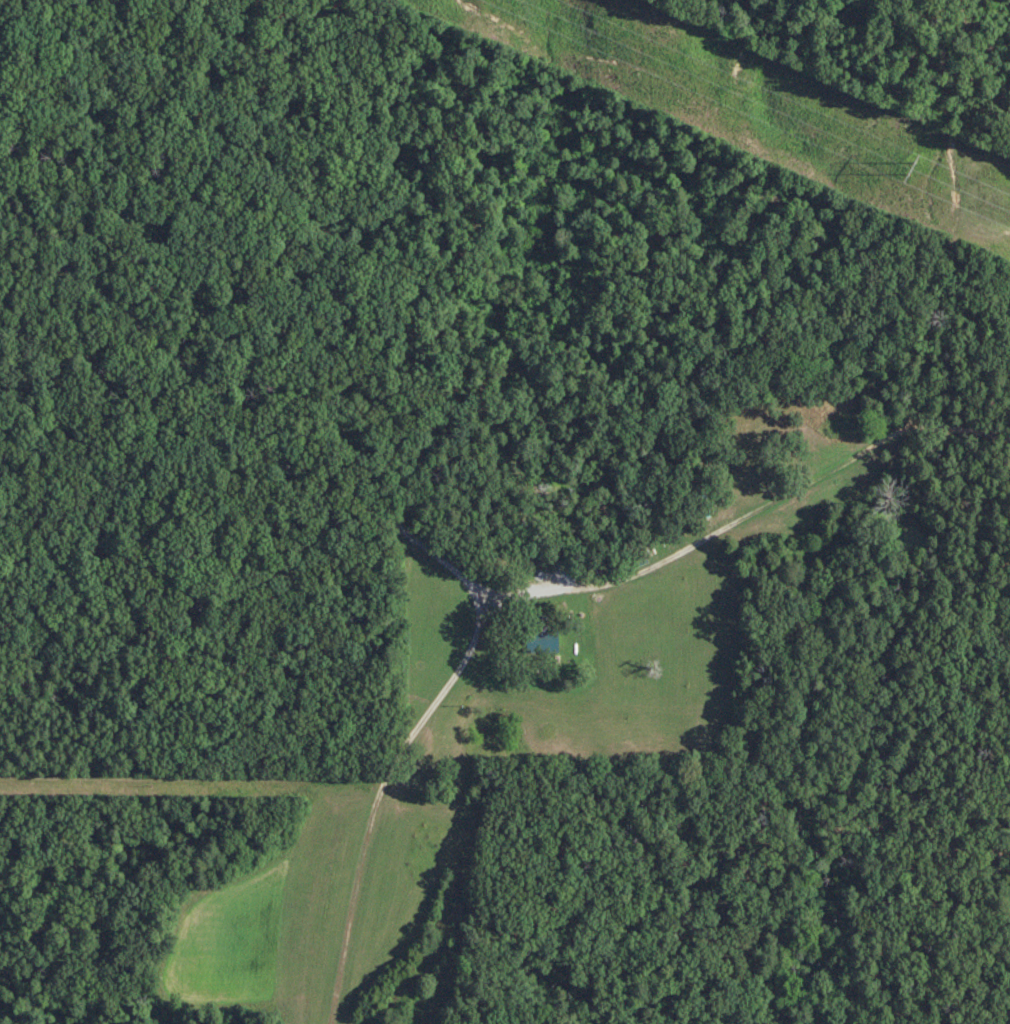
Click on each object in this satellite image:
power tower: (906, 165)
road: (314, 783)

